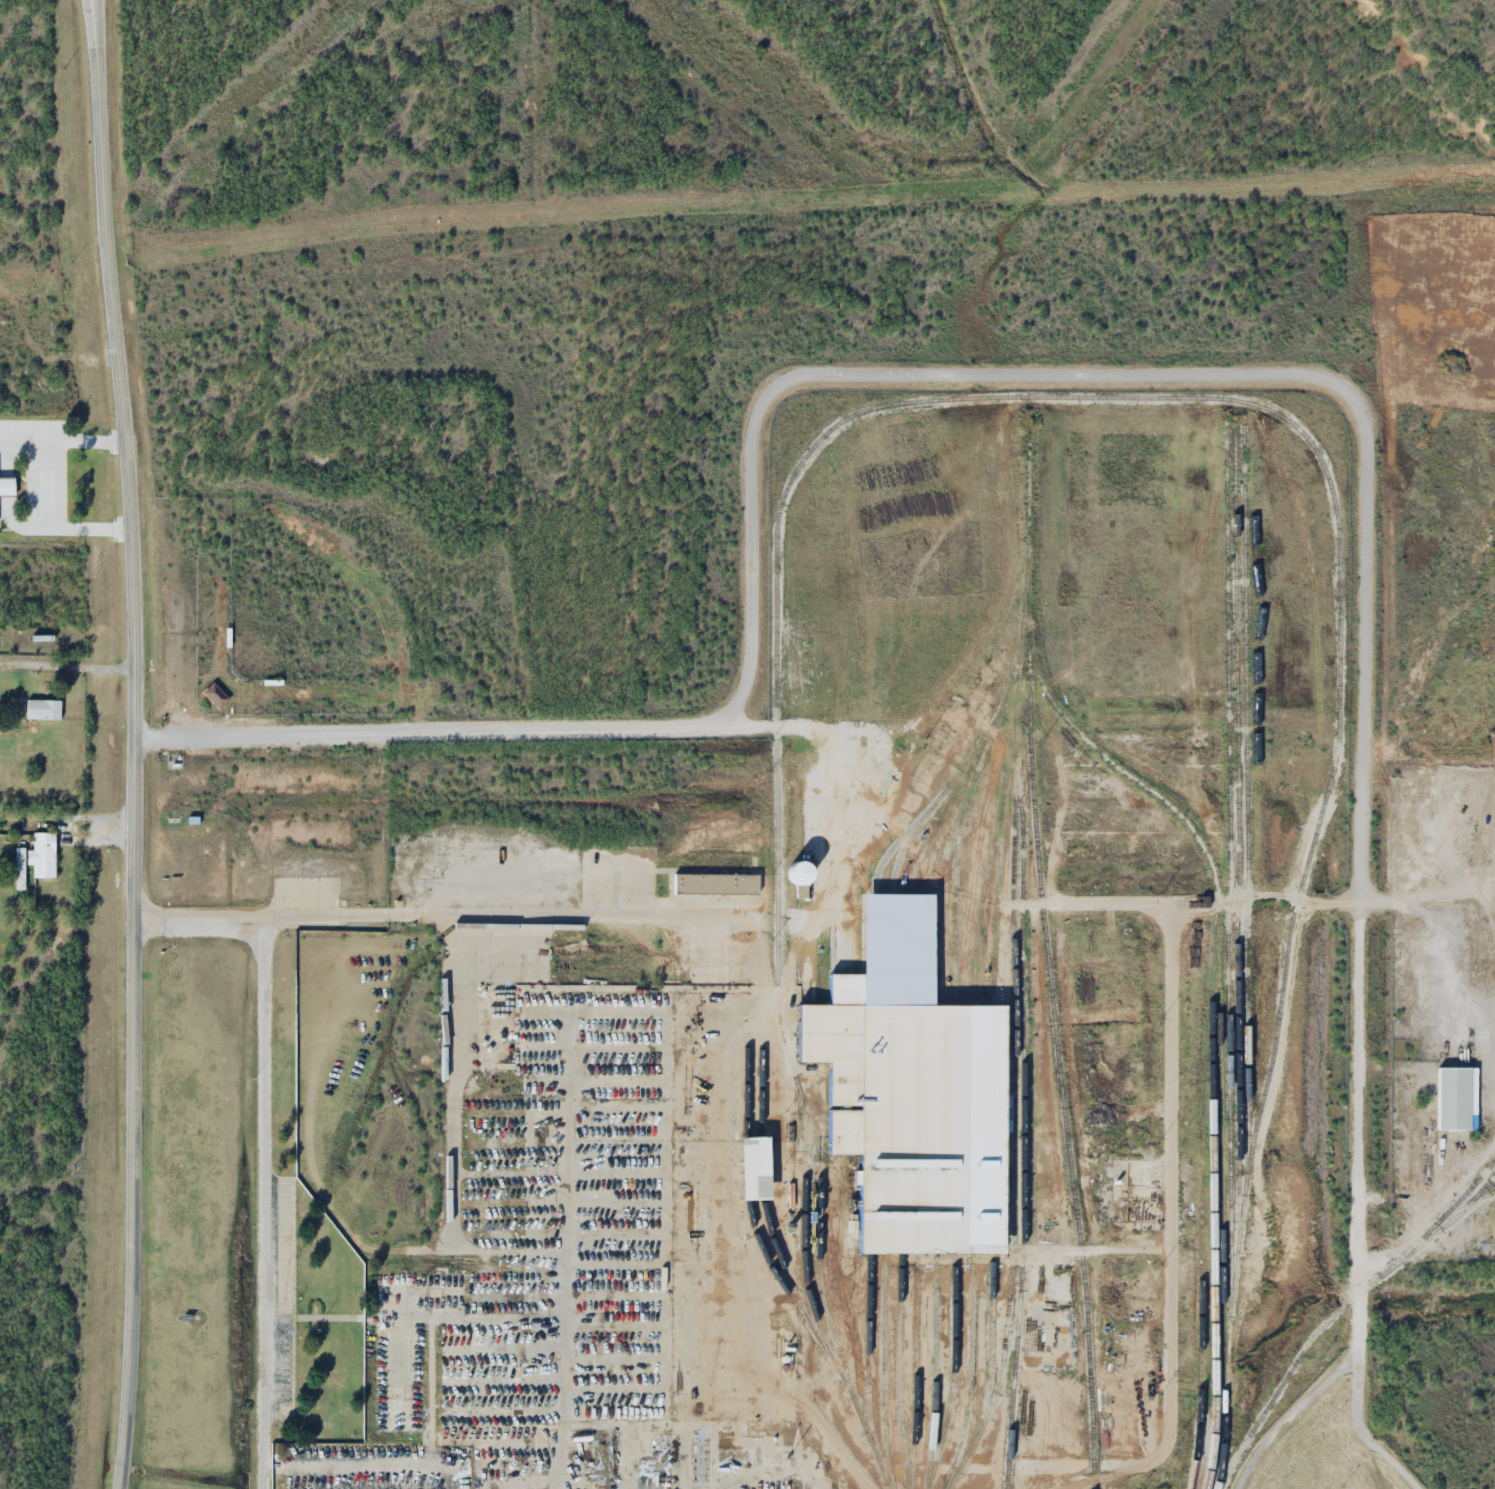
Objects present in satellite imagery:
building: (8, 478)
building: (215, 695)
building: (46, 702)
road: (134, 743)
building: (44, 847)
building: (20, 868)
building: (799, 871)
building: (715, 883)
road: (748, 917)
building: (1456, 1098)
road: (264, 1202)
parking lot: (282, 1299)
building: (1120, 1340)
road: (1169, 1362)
building: (839, 1435)
railway: (1196, 1446)
railway: (1221, 1446)
railway: (1210, 1447)
road: (375, 1467)
parking lot: (378, 1467)
road: (915, 1478)

